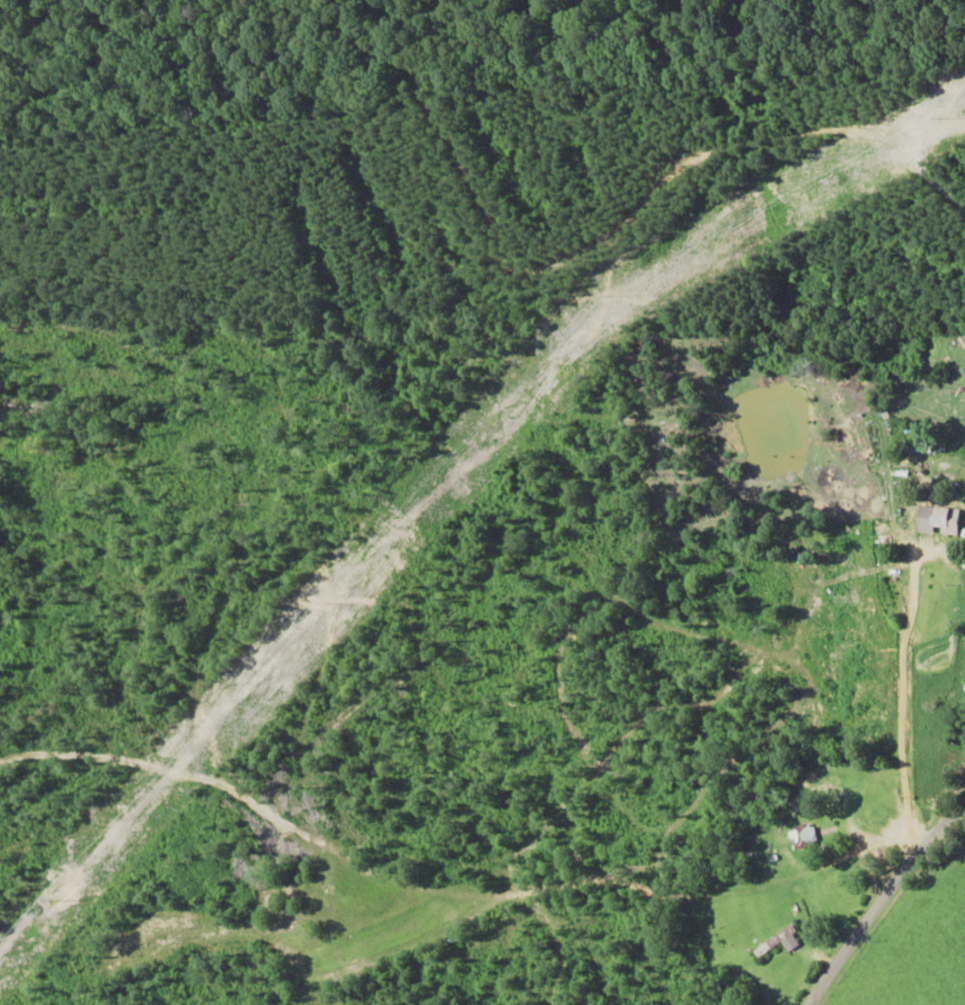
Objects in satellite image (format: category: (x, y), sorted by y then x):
building: (937, 519)
building: (964, 688)
building: (801, 835)
building: (776, 941)
road: (909, 944)

